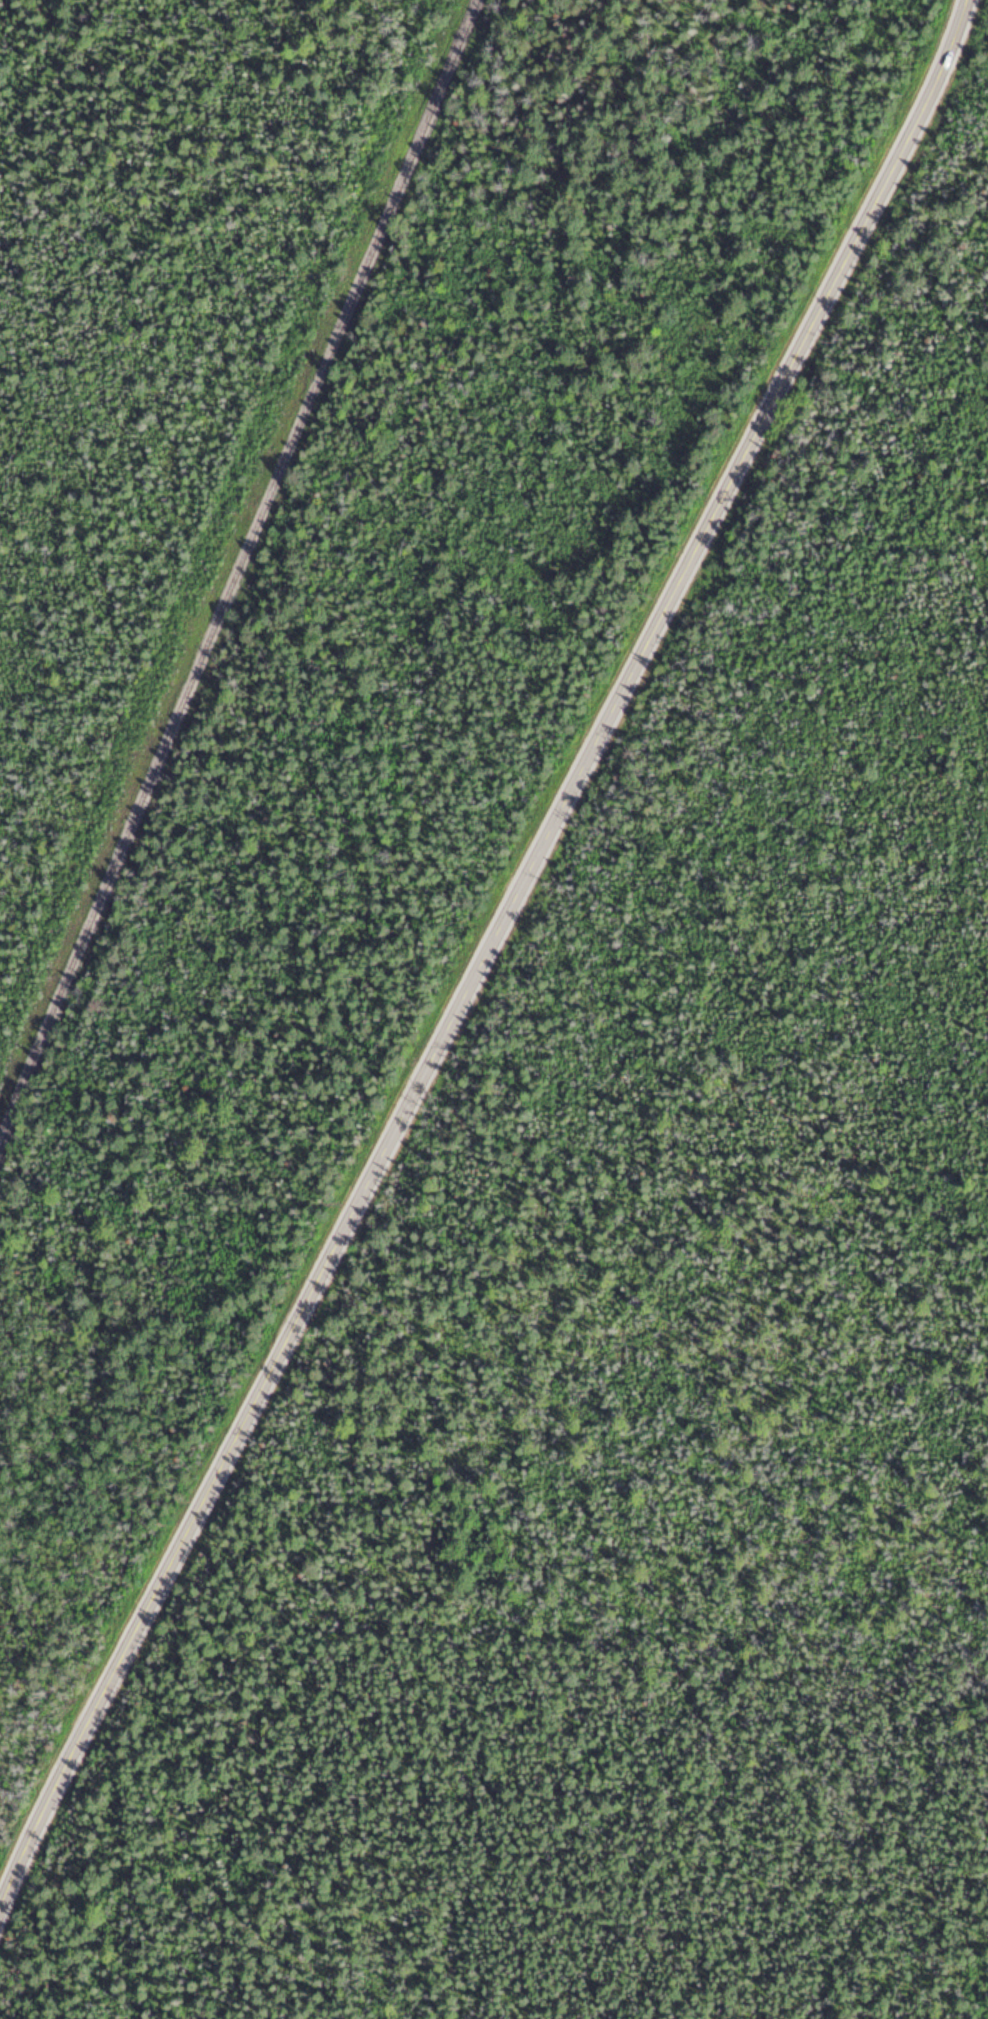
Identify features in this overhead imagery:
railway: (237, 572)
road: (483, 954)

